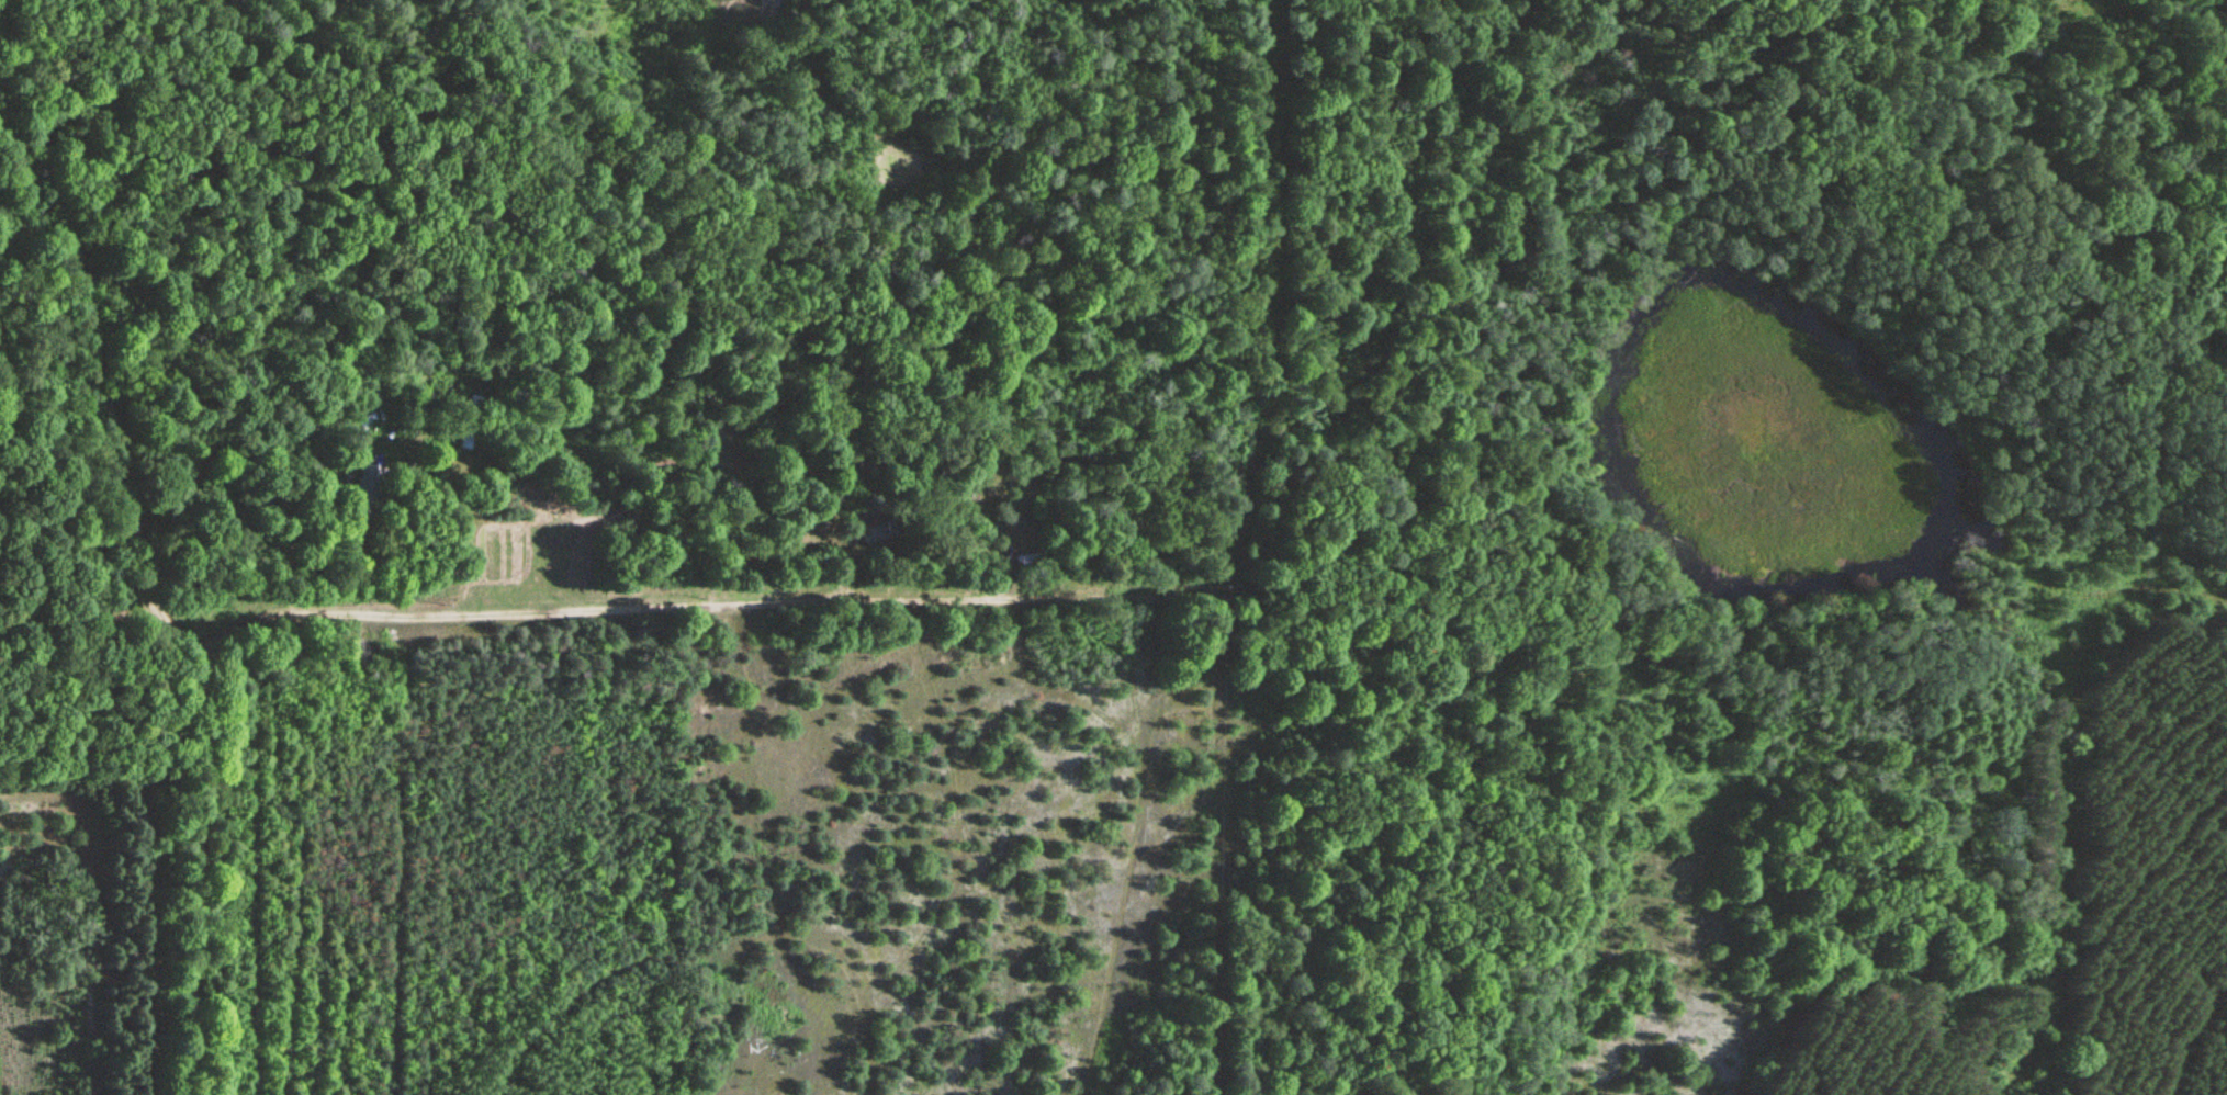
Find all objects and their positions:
building: (469, 424)
building: (369, 484)
road: (476, 545)
road: (154, 579)
road: (859, 600)
road: (1068, 687)
road: (1134, 837)
road: (1212, 839)
road: (2187, 1031)

